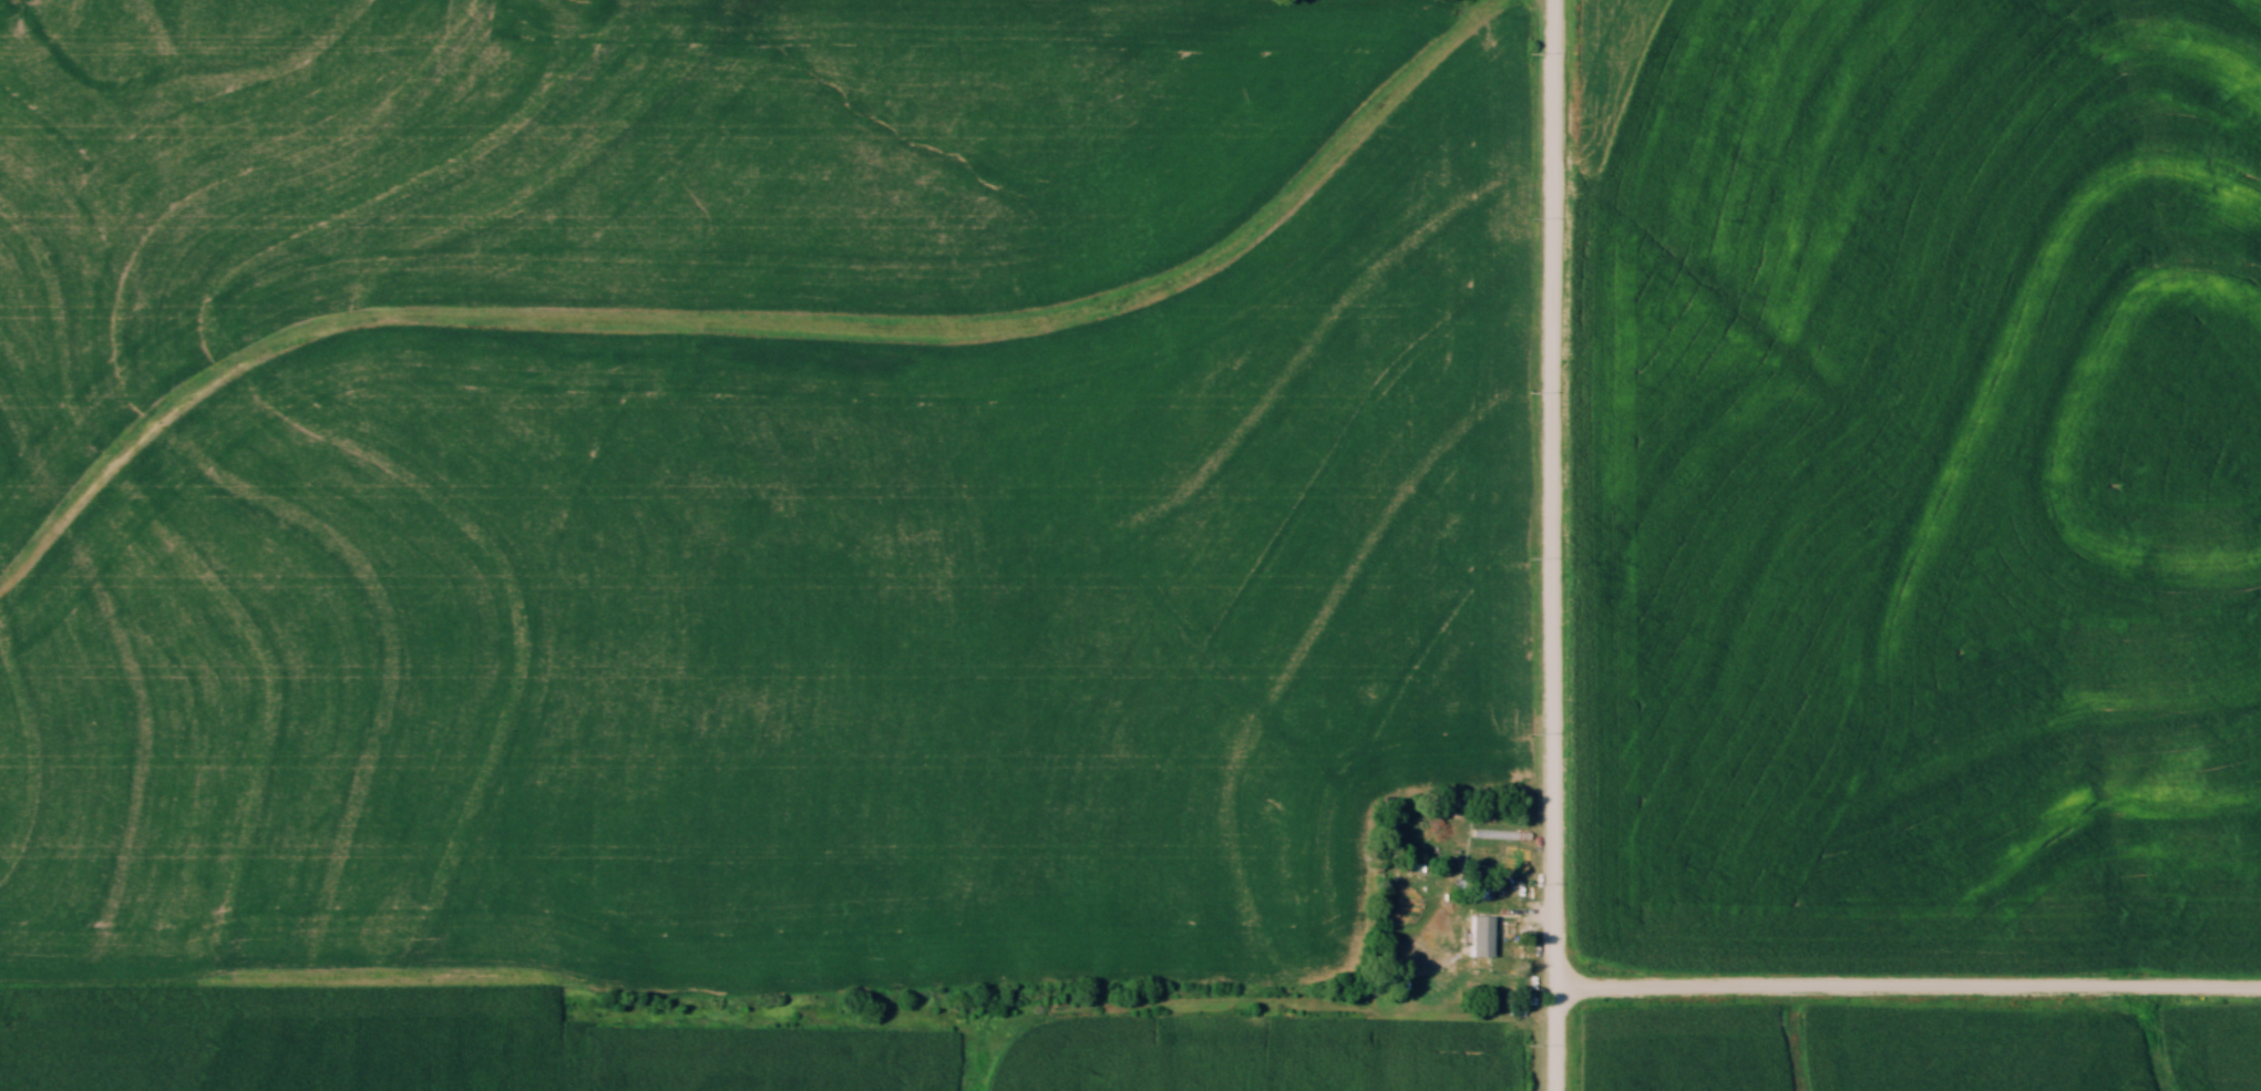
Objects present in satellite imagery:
road: (1553, 494)
road: (1417, 894)
building: (1483, 937)
road: (1907, 988)
road: (1554, 1040)

